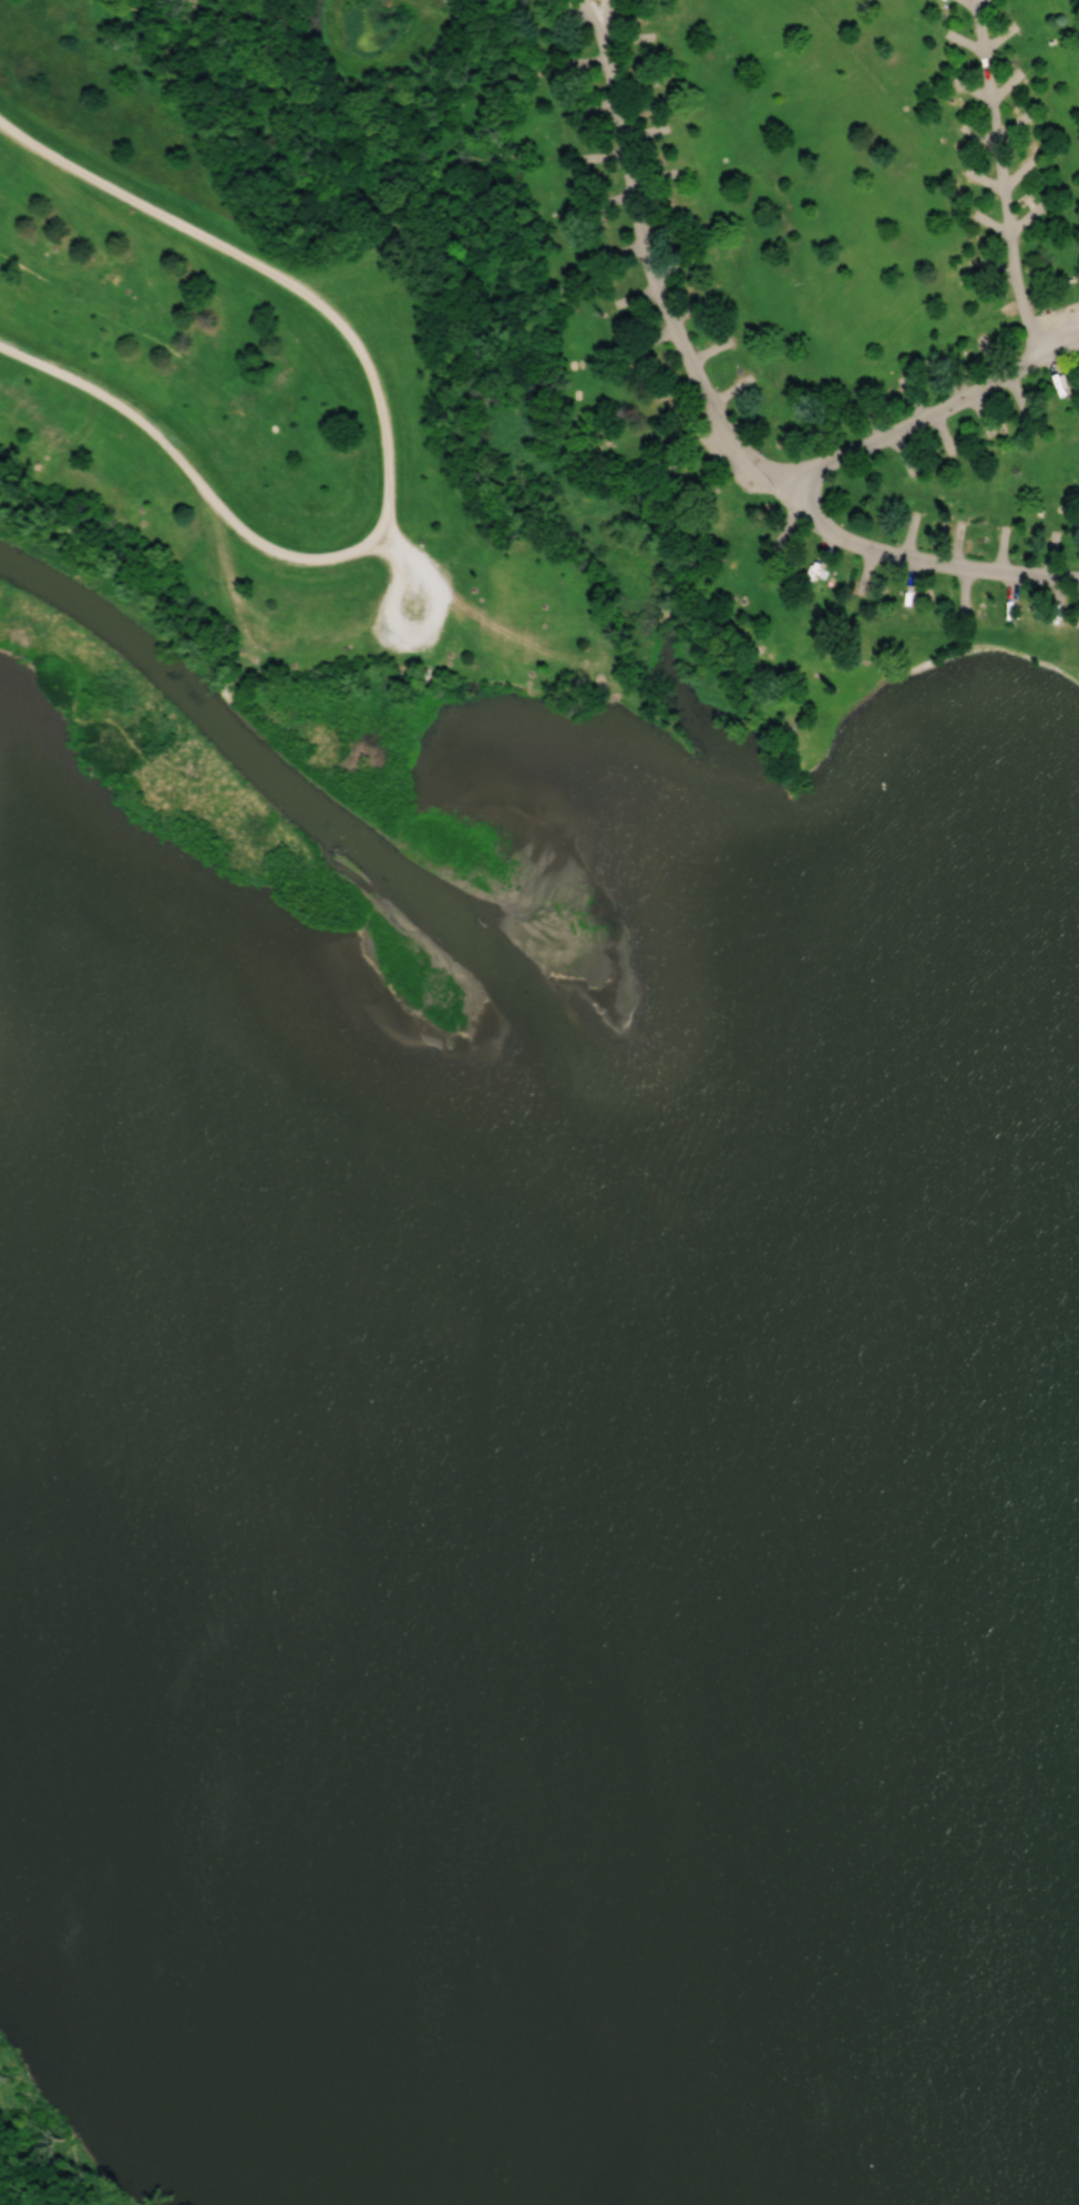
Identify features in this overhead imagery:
road: (590, 13)
road: (602, 13)
road: (1004, 181)
road: (765, 239)
road: (721, 420)
road: (388, 457)
road: (936, 484)
road: (389, 543)
road: (921, 557)
parking lot: (409, 604)
river: (194, 687)
river: (624, 1322)
park: (925, 1525)
park: (41, 2152)
park: (174, 2204)

